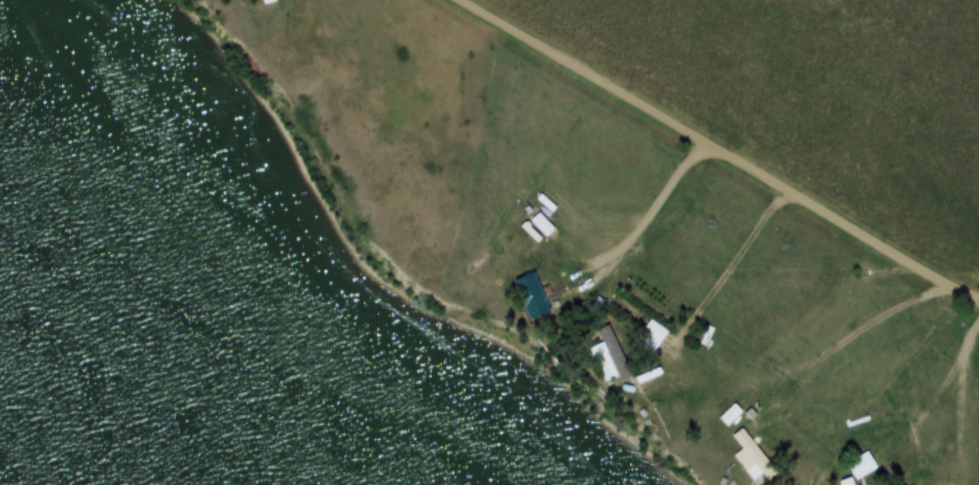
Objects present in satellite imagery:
building: (265, 2)
road: (722, 149)
building: (542, 225)
road: (968, 274)
building: (532, 296)
building: (651, 336)
building: (609, 357)
building: (730, 415)
building: (749, 457)
building: (861, 466)
building: (848, 482)

